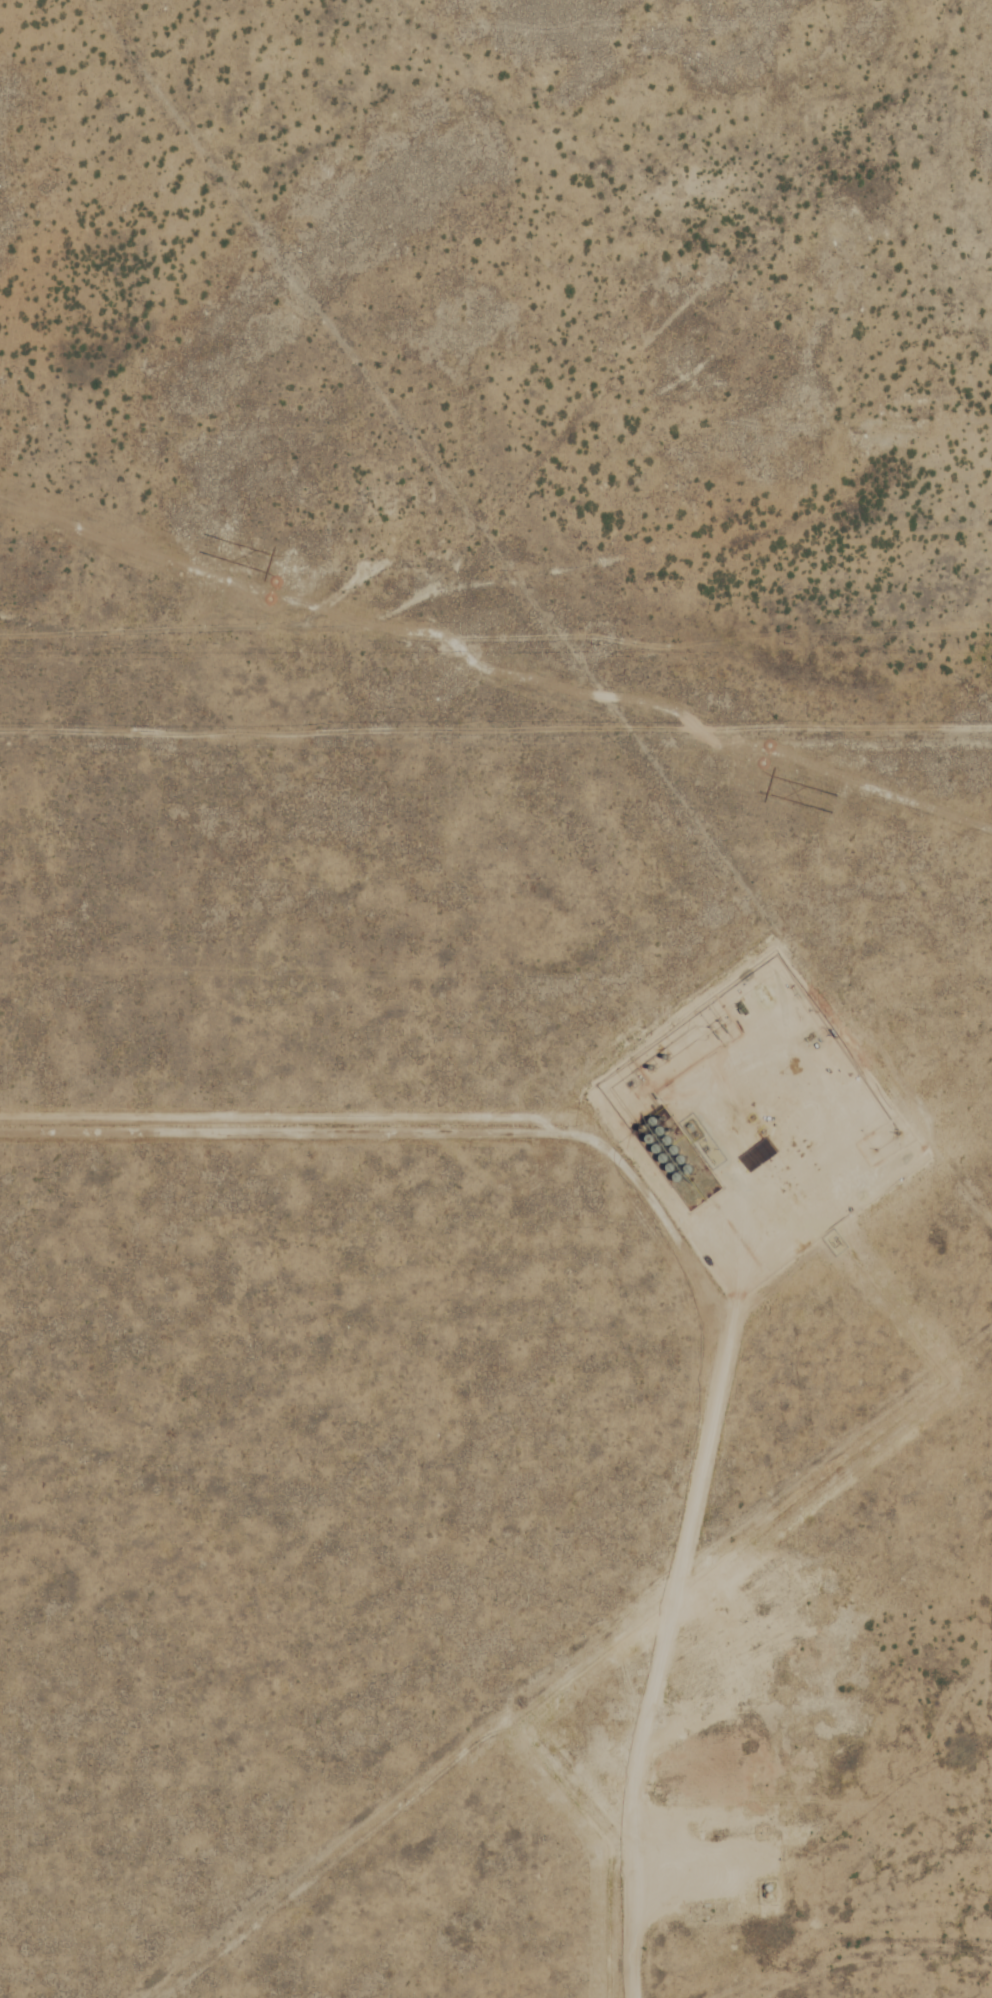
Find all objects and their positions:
road: (671, 1869)

